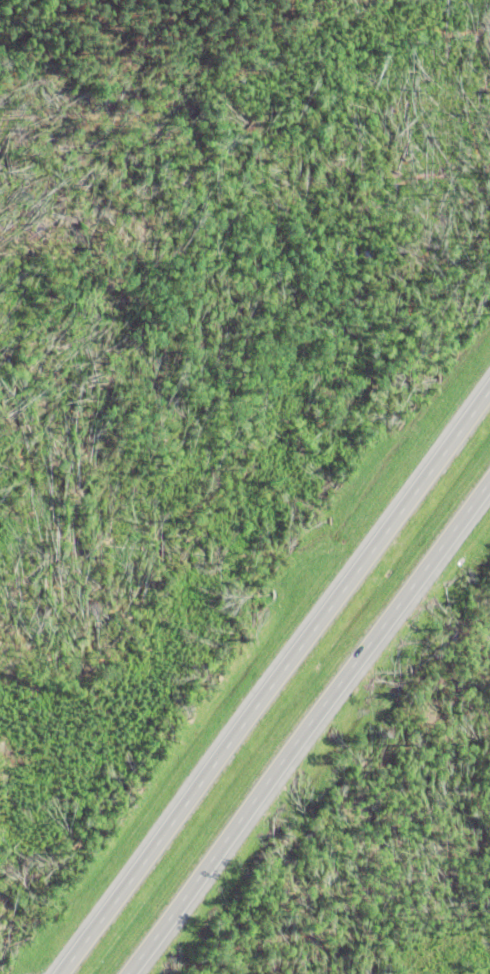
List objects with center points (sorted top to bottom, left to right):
road: (273, 676)
road: (306, 722)

